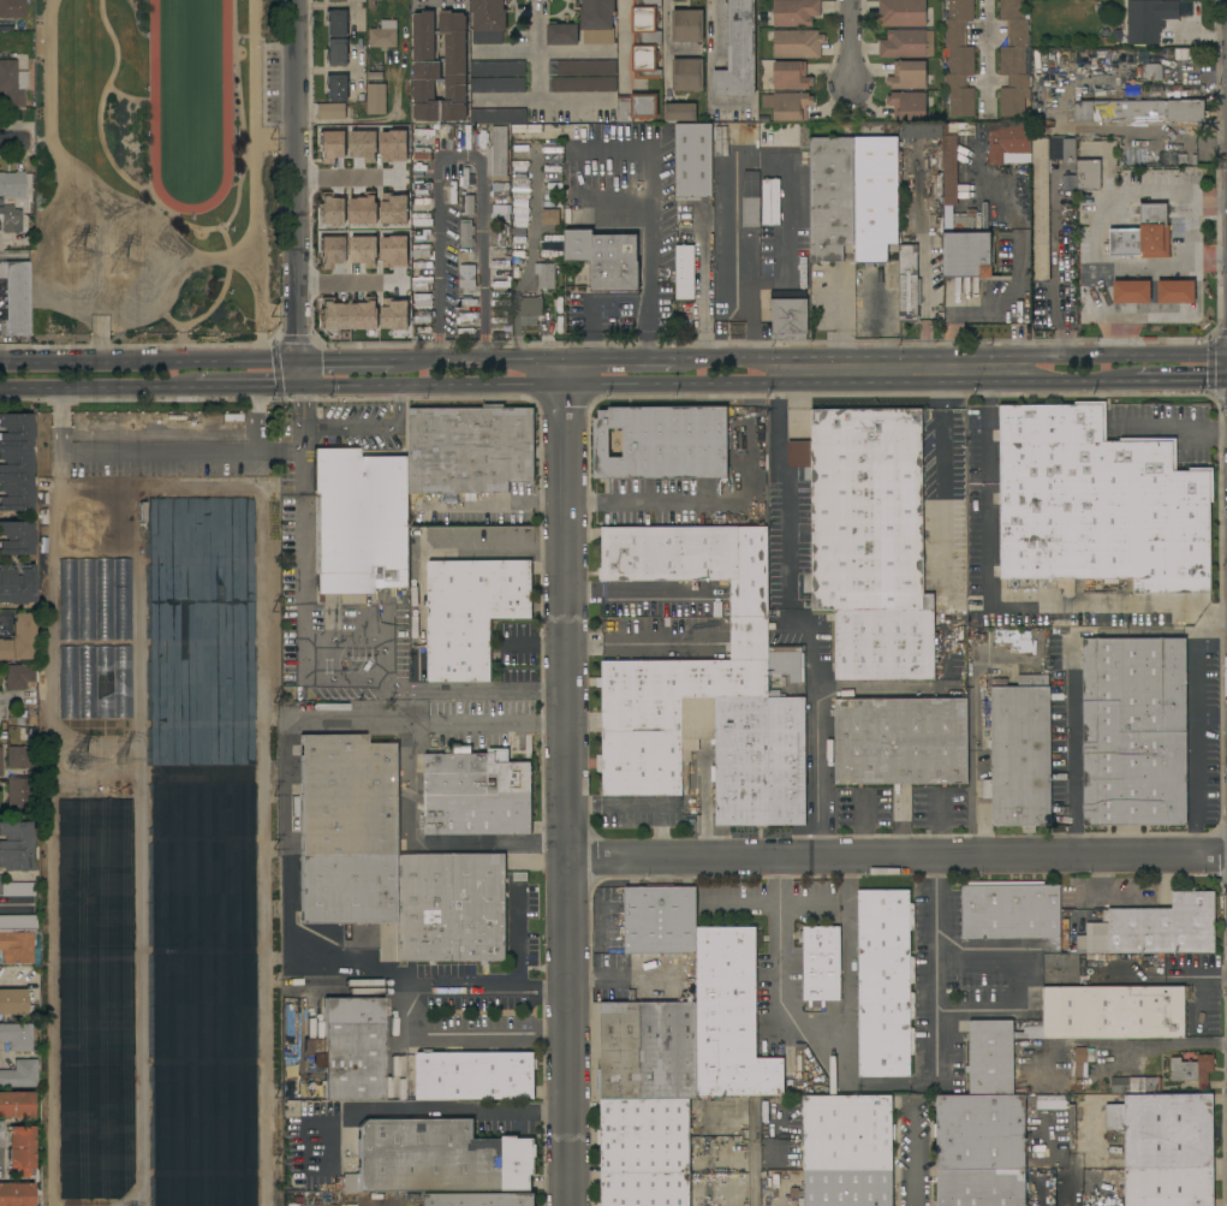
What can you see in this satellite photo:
building: (336, 0)
building: (12, 8)
building: (794, 12)
building: (900, 13)
building: (488, 20)
building: (597, 22)
building: (336, 23)
building: (1148, 23)
building: (687, 25)
building: (562, 34)
building: (383, 35)
building: (645, 38)
road: (852, 38)
road: (624, 40)
road: (667, 43)
building: (797, 43)
building: (903, 44)
road: (549, 49)
road: (537, 51)
building: (686, 52)
building: (738, 52)
building: (336, 53)
road: (989, 54)
building: (1104, 58)
building: (959, 59)
building: (1013, 59)
building: (439, 67)
building: (582, 67)
building: (498, 69)
road: (708, 70)
building: (1152, 71)
building: (687, 75)
building: (907, 75)
building: (790, 76)
building: (12, 83)
building: (582, 84)
building: (498, 85)
building: (336, 87)
road: (129, 96)
building: (376, 99)
road: (546, 101)
building: (787, 106)
building: (907, 106)
building: (637, 107)
building: (330, 111)
building: (1138, 111)
building: (680, 112)
building: (498, 115)
road: (252, 127)
building: (919, 131)
building: (423, 133)
building: (745, 135)
road: (16, 143)
building: (1009, 143)
road: (58, 149)
building: (1068, 149)
building: (421, 153)
building: (498, 153)
road: (458, 158)
building: (952, 160)
building: (693, 161)
park: (155, 173)
building: (1088, 174)
road: (346, 178)
building: (12, 184)
building: (419, 189)
building: (763, 191)
road: (296, 192)
building: (449, 192)
building: (830, 198)
building: (875, 198)
building: (466, 204)
track: (190, 208)
building: (1040, 209)
building: (500, 212)
building: (750, 212)
building: (550, 216)
building: (8, 218)
building: (419, 219)
road: (185, 224)
road: (1096, 232)
road: (647, 233)
building: (1143, 234)
building: (499, 238)
building: (965, 250)
building: (421, 251)
power tower: (81, 254)
building: (466, 256)
road: (529, 256)
road: (14, 257)
road: (207, 259)
building: (606, 259)
road: (1059, 259)
building: (452, 267)
power tower: (129, 272)
building: (684, 272)
building: (546, 275)
building: (499, 279)
road: (703, 283)
building: (421, 284)
building: (907, 284)
road: (347, 285)
building: (1131, 291)
building: (1175, 291)
building: (16, 297)
road: (744, 298)
road: (618, 299)
road: (260, 301)
building: (421, 301)
road: (845, 308)
building: (530, 310)
road: (884, 315)
building: (422, 316)
building: (790, 319)
building: (422, 329)
road: (951, 355)
road: (480, 357)
road: (621, 357)
road: (149, 358)
traffic signals: (298, 358)
road: (346, 358)
road: (941, 368)
road: (988, 368)
road: (776, 369)
road: (1181, 380)
road: (1038, 381)
road: (858, 382)
traffic signals: (298, 385)
road: (96, 386)
road: (246, 386)
road: (537, 386)
road: (298, 408)
road: (1168, 426)
road: (369, 429)
road: (941, 435)
road: (256, 440)
building: (662, 442)
building: (470, 450)
road: (126, 451)
building: (14, 462)
road: (649, 500)
building: (1098, 503)
road: (787, 510)
building: (359, 522)
road: (300, 534)
building: (16, 537)
building: (870, 540)
building: (692, 560)
building: (14, 584)
road: (639, 590)
building: (94, 599)
building: (185, 600)
road: (989, 605)
building: (471, 613)
building: (607, 616)
road: (1219, 620)
road: (1203, 628)
building: (822, 632)
building: (19, 640)
building: (788, 640)
road: (537, 647)
building: (17, 676)
building: (94, 682)
road: (1071, 683)
road: (381, 684)
road: (473, 685)
building: (678, 705)
building: (808, 707)
building: (1134, 731)
building: (900, 741)
road: (1193, 744)
road: (817, 745)
building: (1020, 753)
building: (20, 756)
building: (751, 758)
power tower: (126, 760)
building: (0, 761)
power tower: (87, 764)
road: (570, 780)
road: (409, 783)
building: (20, 795)
building: (476, 795)
building: (349, 796)
road: (642, 803)
building: (16, 846)
road: (898, 857)
building: (17, 889)
building: (413, 901)
road: (747, 902)
road: (17, 903)
building: (1009, 910)
building: (660, 920)
building: (18, 922)
building: (1150, 928)
road: (519, 937)
building: (16, 946)
road: (288, 947)
building: (821, 963)
building: (687, 973)
road: (18, 976)
road: (1020, 982)
road: (484, 984)
building: (884, 984)
building: (13, 1003)
building: (1110, 1012)
building: (731, 1017)
road: (935, 1033)
building: (17, 1036)
road: (823, 1039)
road: (1139, 1045)
building: (350, 1048)
building: (648, 1050)
road: (7, 1054)
building: (990, 1057)
building: (1082, 1062)
building: (1192, 1070)
building: (20, 1074)
building: (475, 1075)
building: (1136, 1085)
building: (16, 1104)
road: (422, 1111)
building: (1163, 1130)
building: (982, 1131)
building: (847, 1133)
building: (1, 1134)
building: (19, 1146)
building: (644, 1152)
road: (921, 1154)
building: (437, 1158)
road: (754, 1174)
building: (981, 1187)
building: (1169, 1187)
building: (845, 1188)
building: (16, 1194)
building: (480, 1199)

